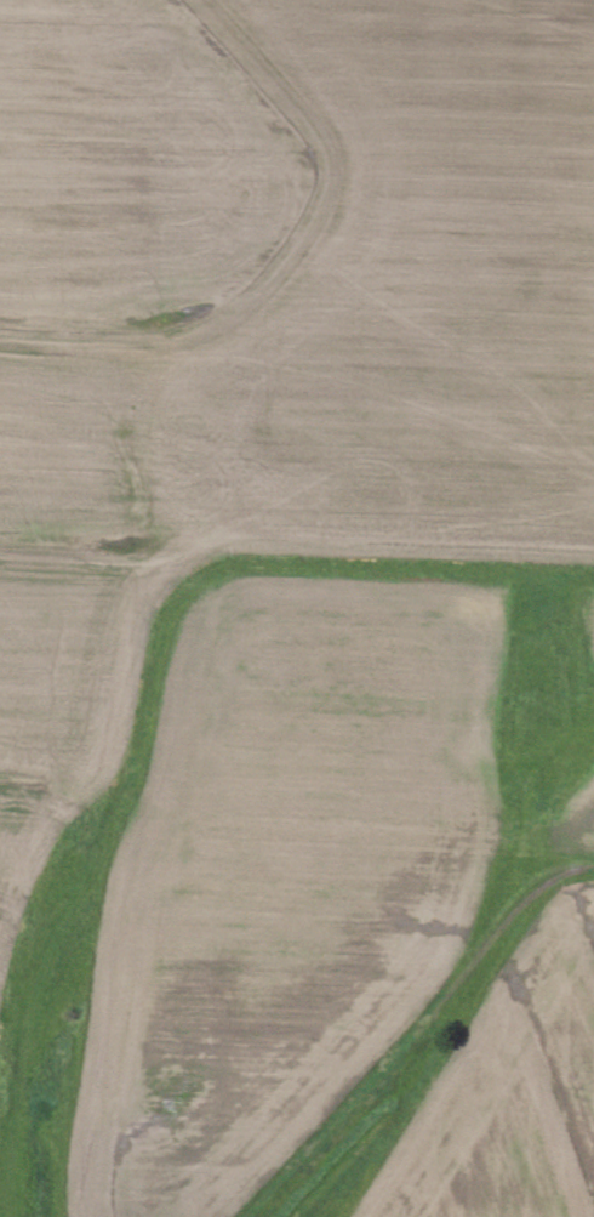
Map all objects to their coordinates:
crop: (297, 608)

